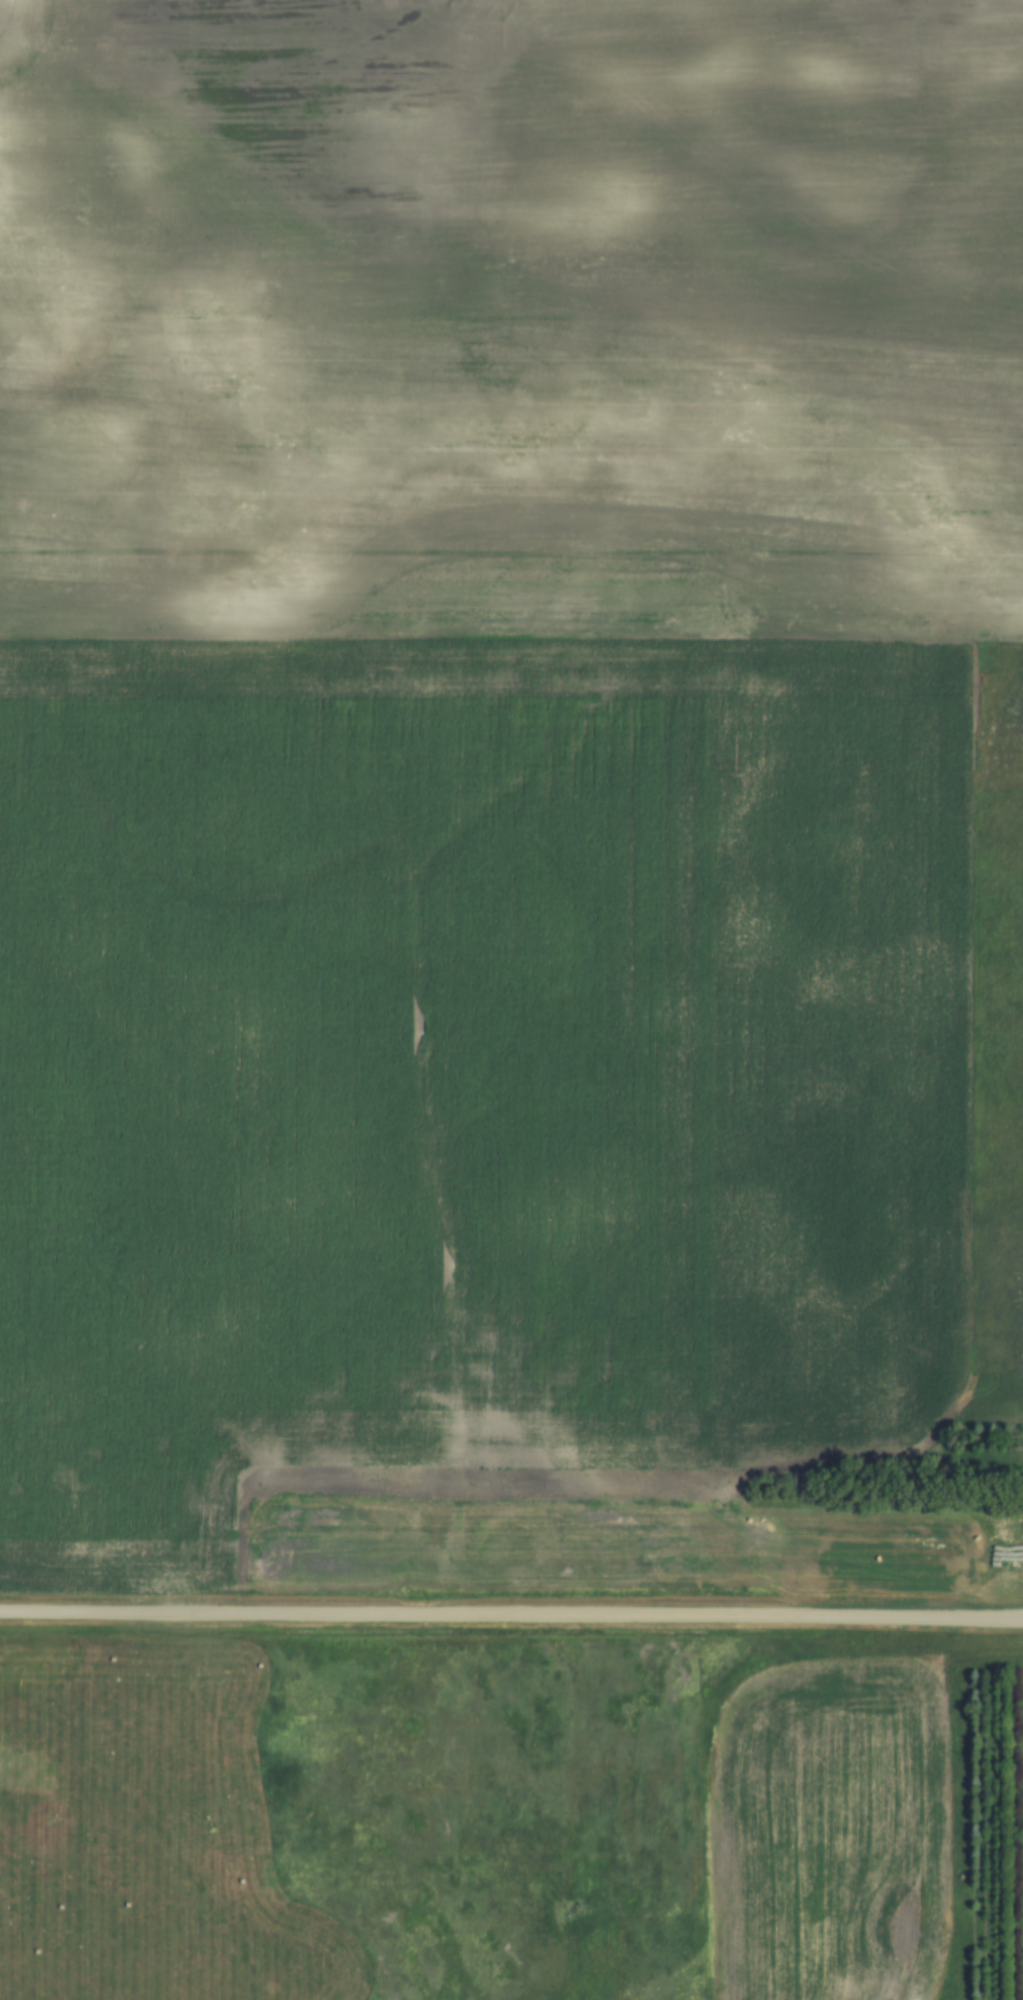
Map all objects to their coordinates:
road: (511, 1618)

